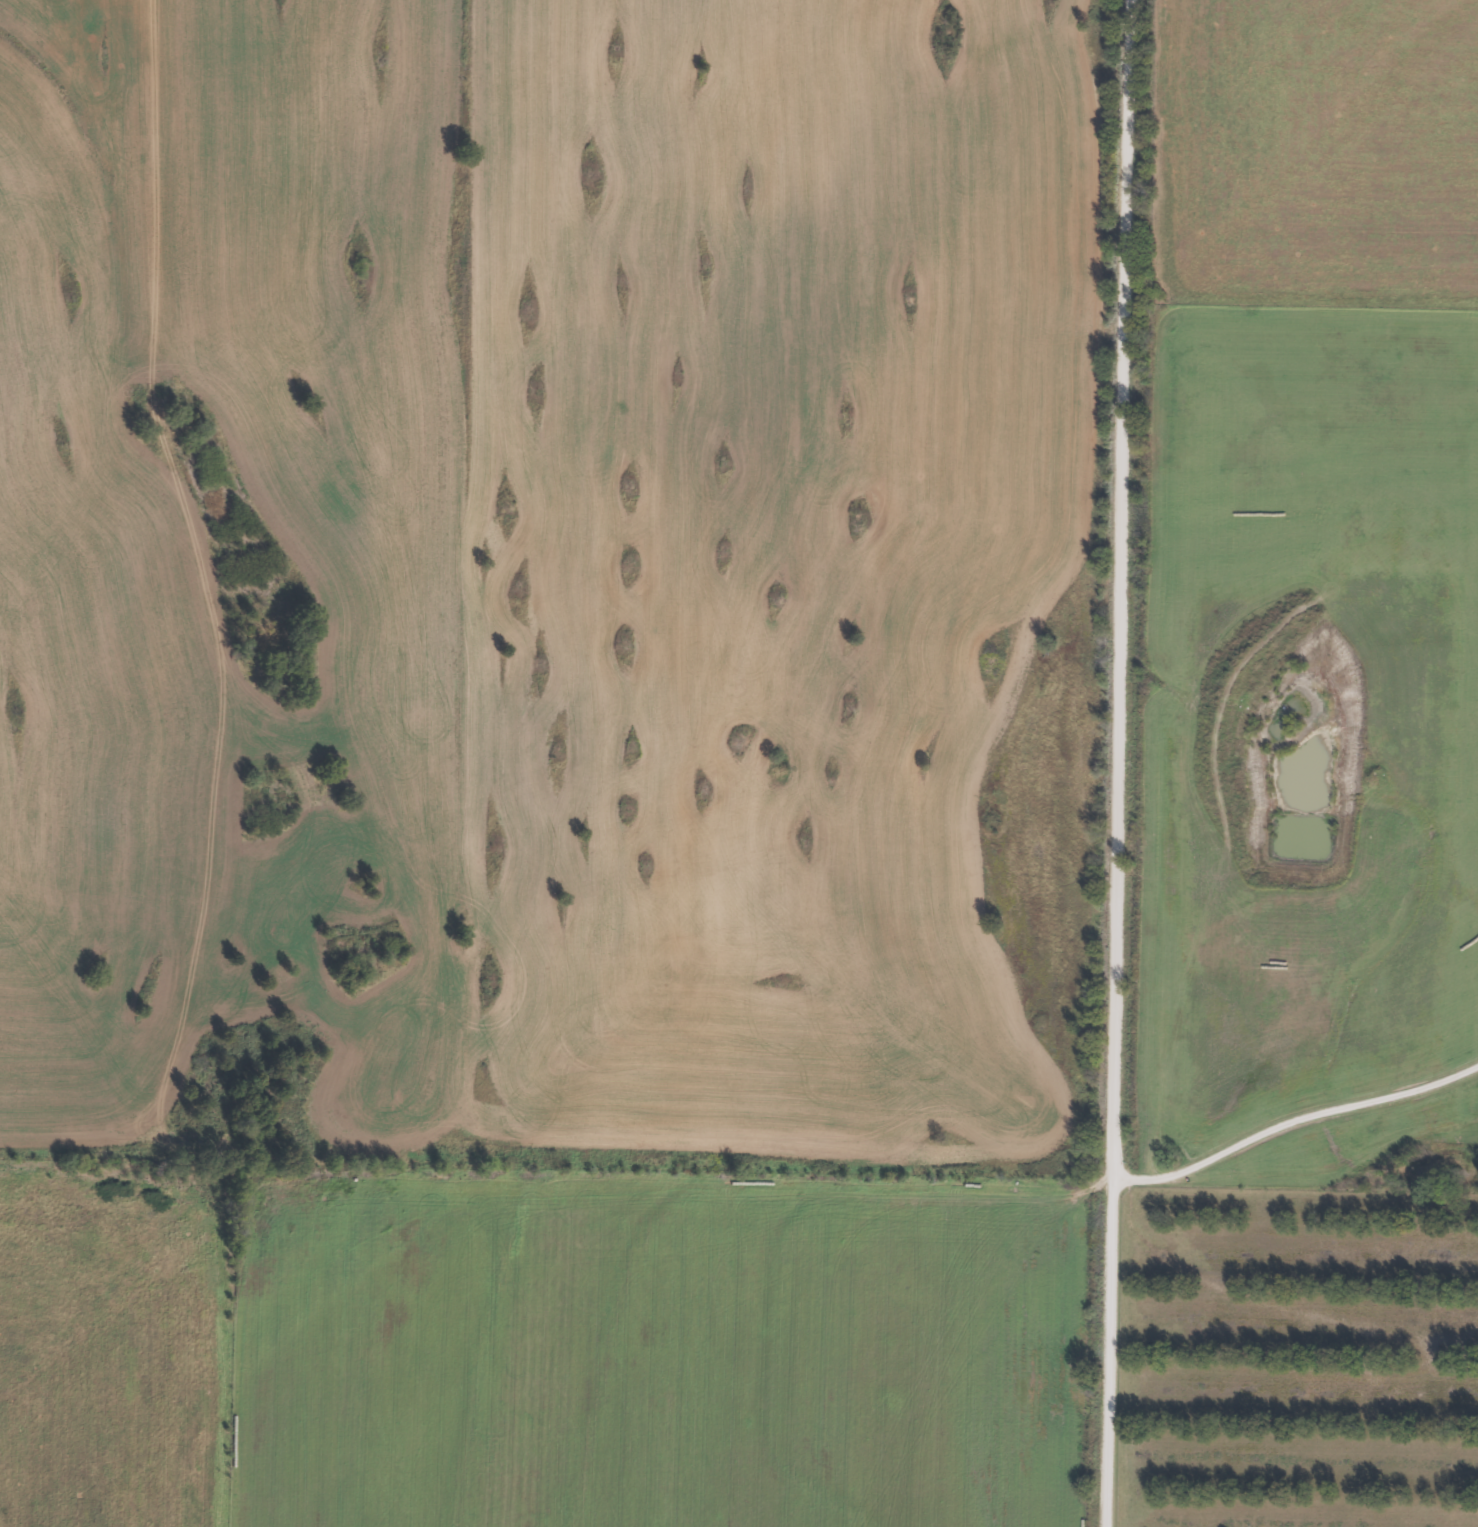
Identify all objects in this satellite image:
road: (1111, 763)

